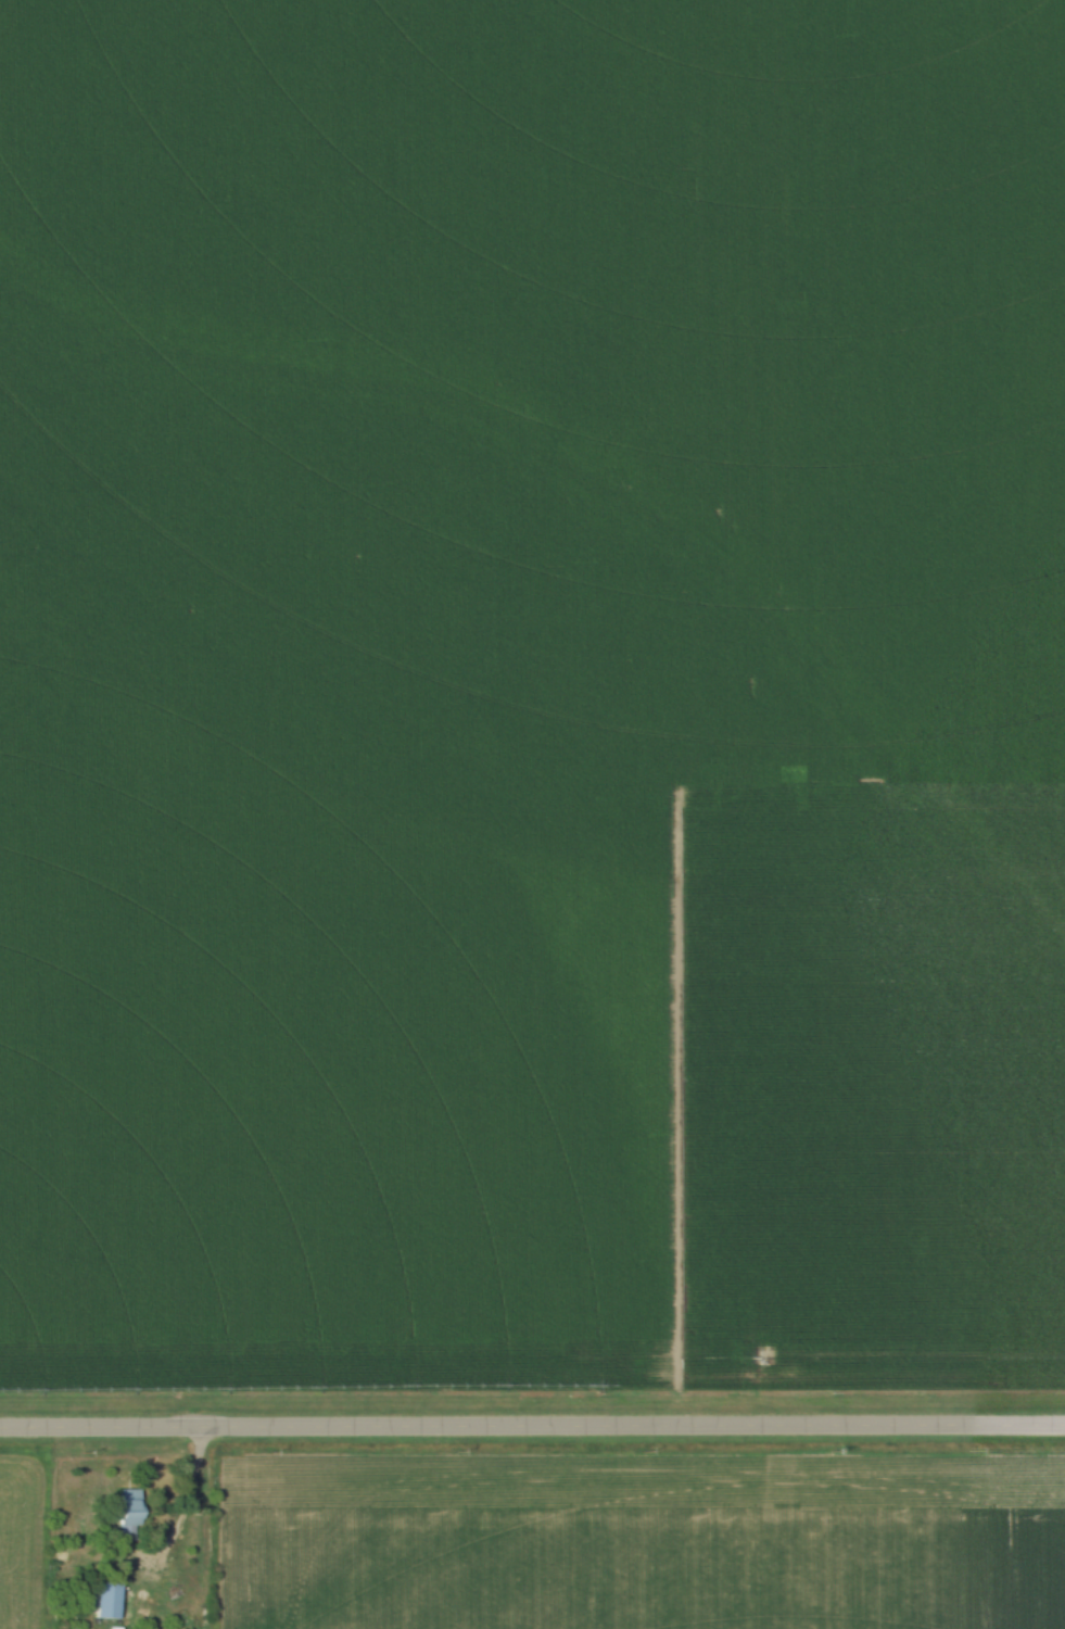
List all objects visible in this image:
crop: (645, 282)
crop: (459, 919)
road: (532, 1425)
road: (185, 1503)
building: (125, 1514)
crop: (639, 1541)
crop: (14, 1542)
building: (104, 1599)

